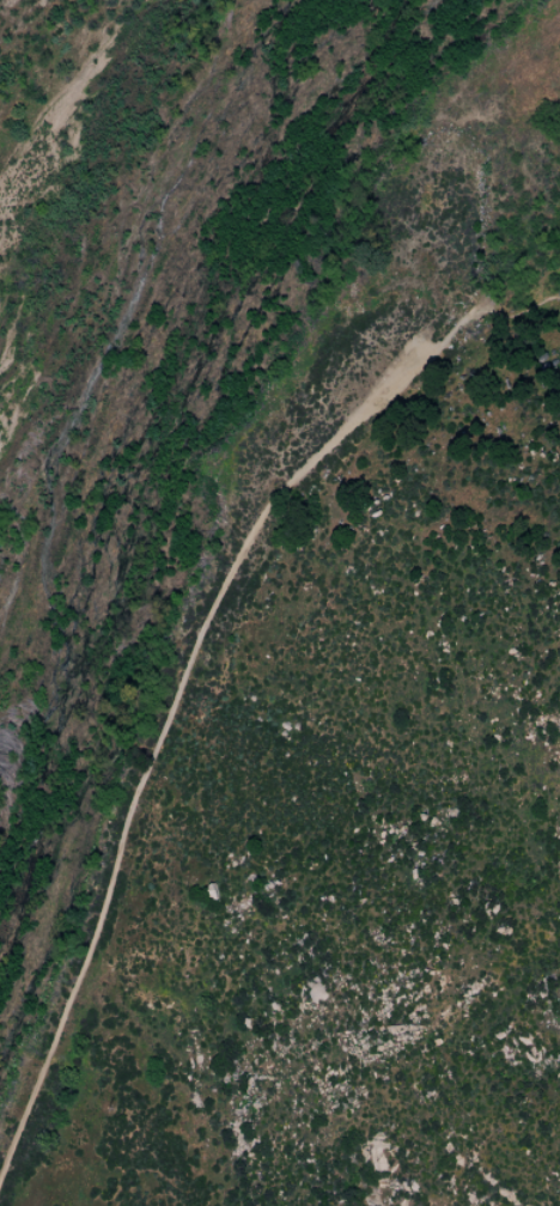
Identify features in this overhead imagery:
road: (485, 310)
river: (170, 382)
park: (280, 603)
road: (159, 730)

